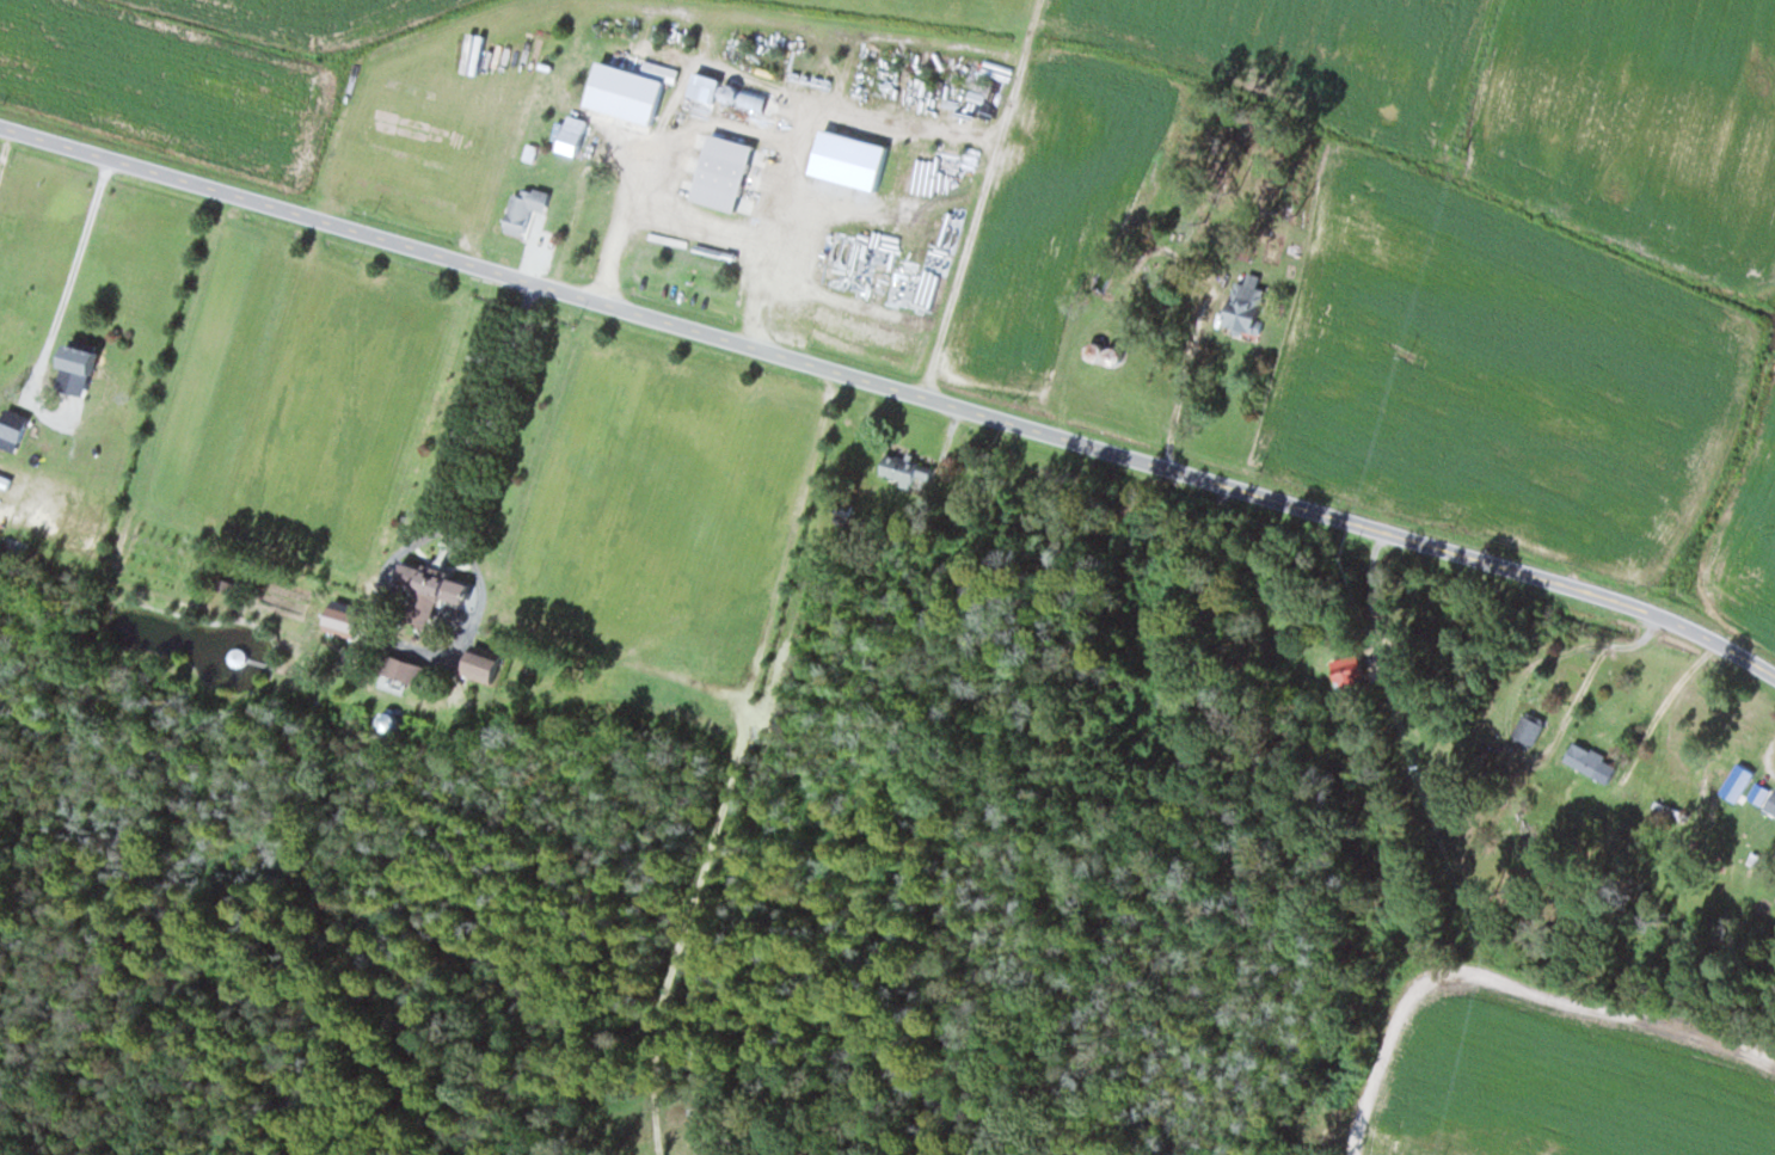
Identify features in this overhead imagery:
building: (712, 88)
building: (628, 102)
building: (582, 136)
building: (732, 173)
building: (526, 213)
building: (1240, 307)
building: (1098, 351)
building: (93, 358)
road: (892, 386)
building: (20, 420)
building: (13, 440)
building: (899, 469)
building: (438, 586)
building: (1340, 669)
building: (1525, 729)
building: (1586, 761)

